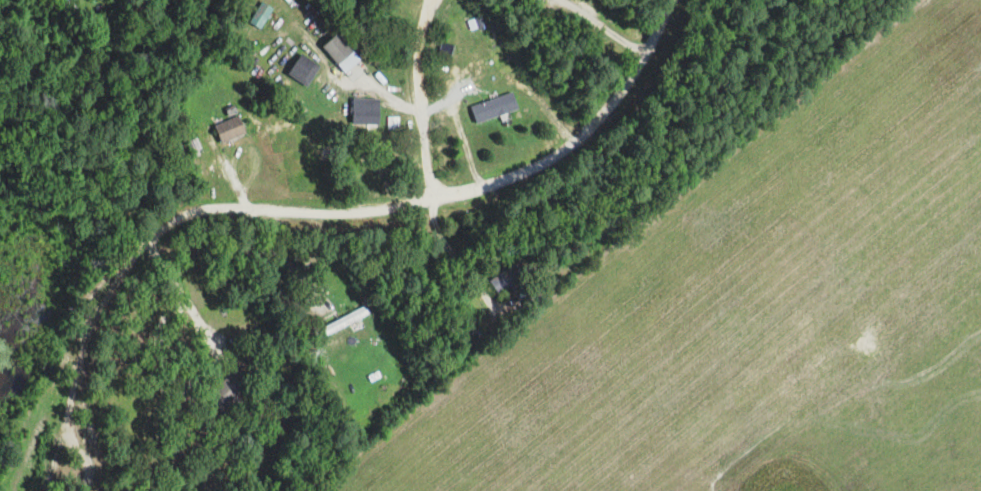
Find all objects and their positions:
road: (430, 0)
building: (67, 5)
building: (264, 15)
building: (479, 20)
road: (604, 28)
building: (341, 52)
road: (320, 54)
building: (304, 70)
road: (420, 99)
road: (388, 100)
building: (495, 106)
building: (365, 111)
building: (393, 123)
building: (229, 126)
road: (461, 133)
road: (222, 166)
road: (455, 196)
road: (466, 270)
road: (297, 273)
building: (511, 274)
road: (186, 292)
crop: (757, 314)
building: (346, 319)
road: (205, 339)
road: (80, 351)
road: (153, 378)
building: (229, 387)
building: (244, 445)

